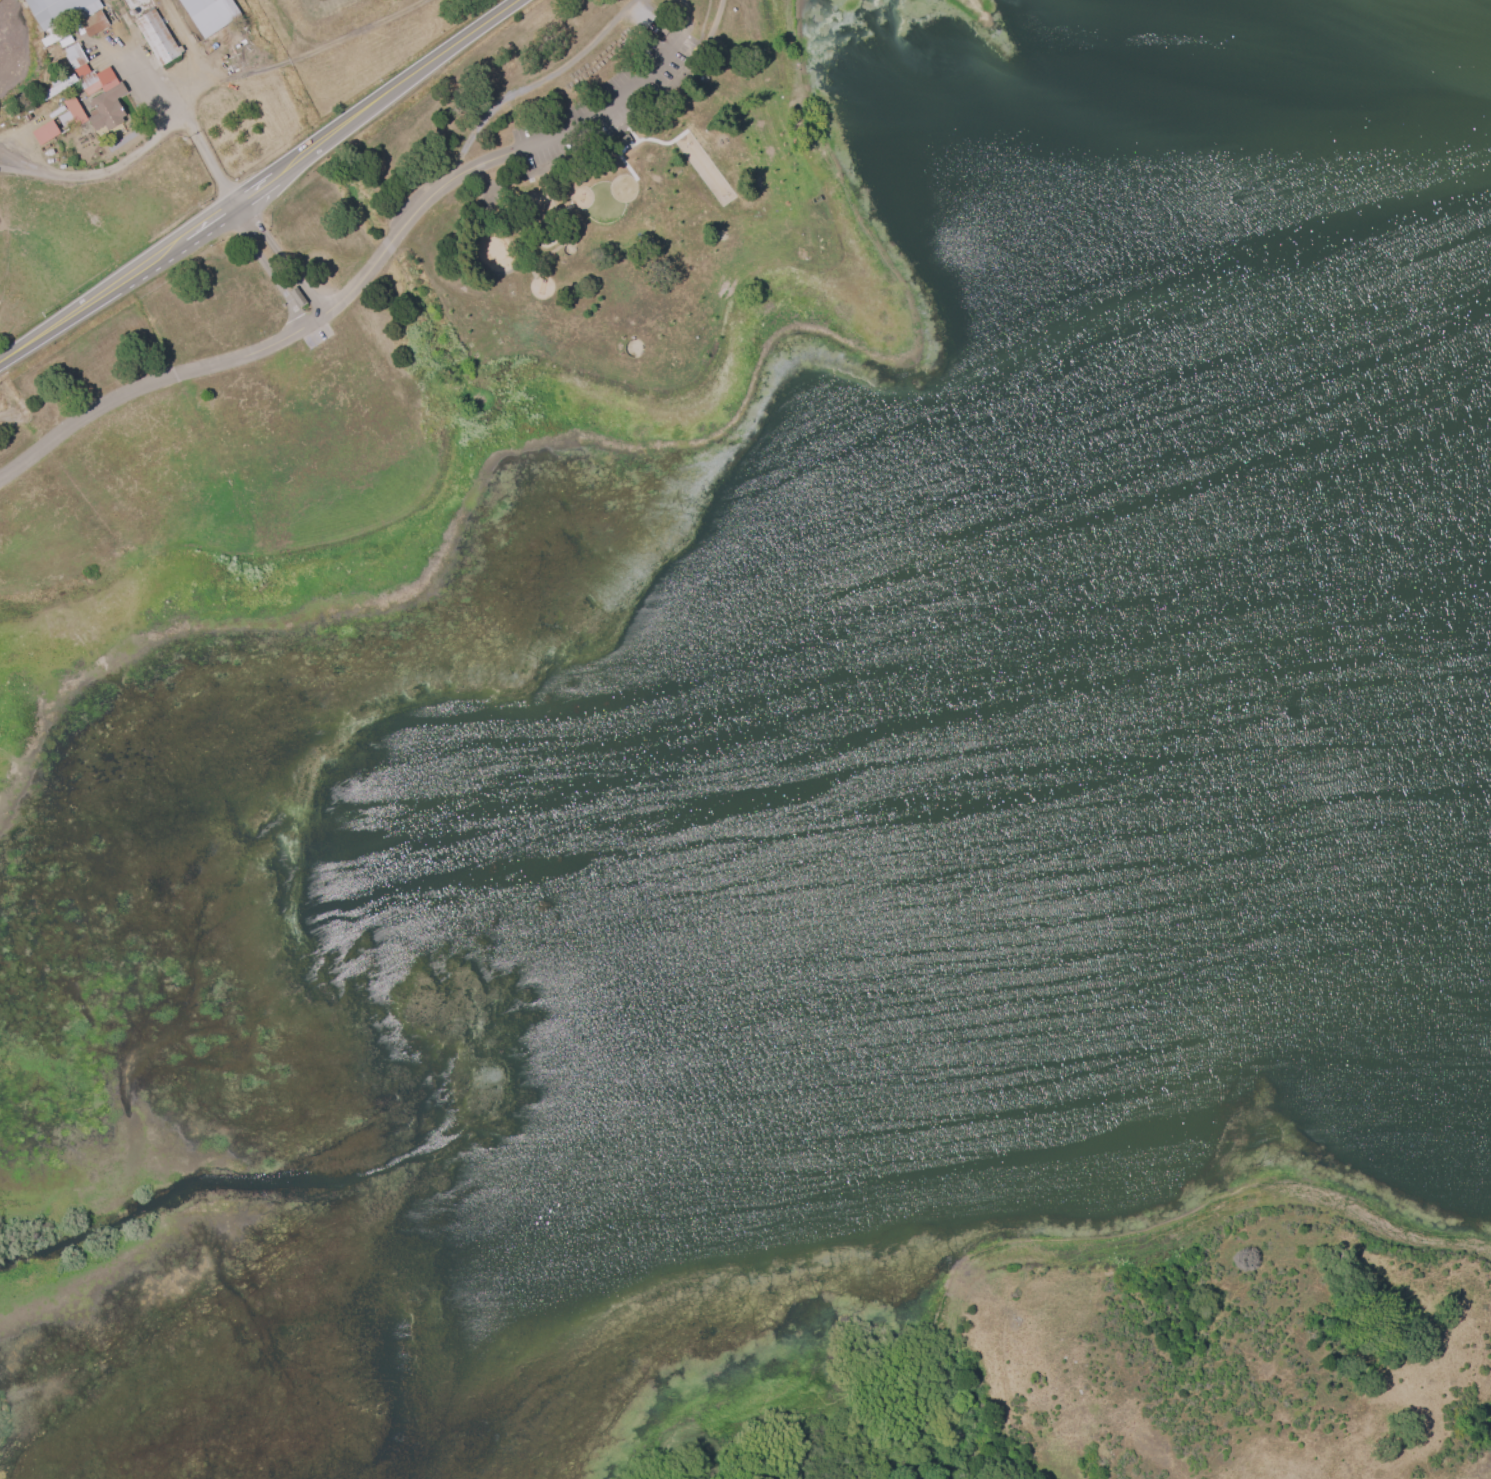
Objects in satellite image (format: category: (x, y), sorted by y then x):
building: (59, 9)
building: (208, 13)
road: (715, 21)
building: (92, 22)
building: (156, 35)
building: (81, 68)
road: (147, 79)
building: (105, 100)
parking lot: (604, 109)
building: (71, 110)
building: (44, 131)
road: (3, 157)
road: (208, 158)
road: (487, 161)
road: (97, 171)
road: (263, 183)
toll booth: (296, 293)
road: (215, 361)

